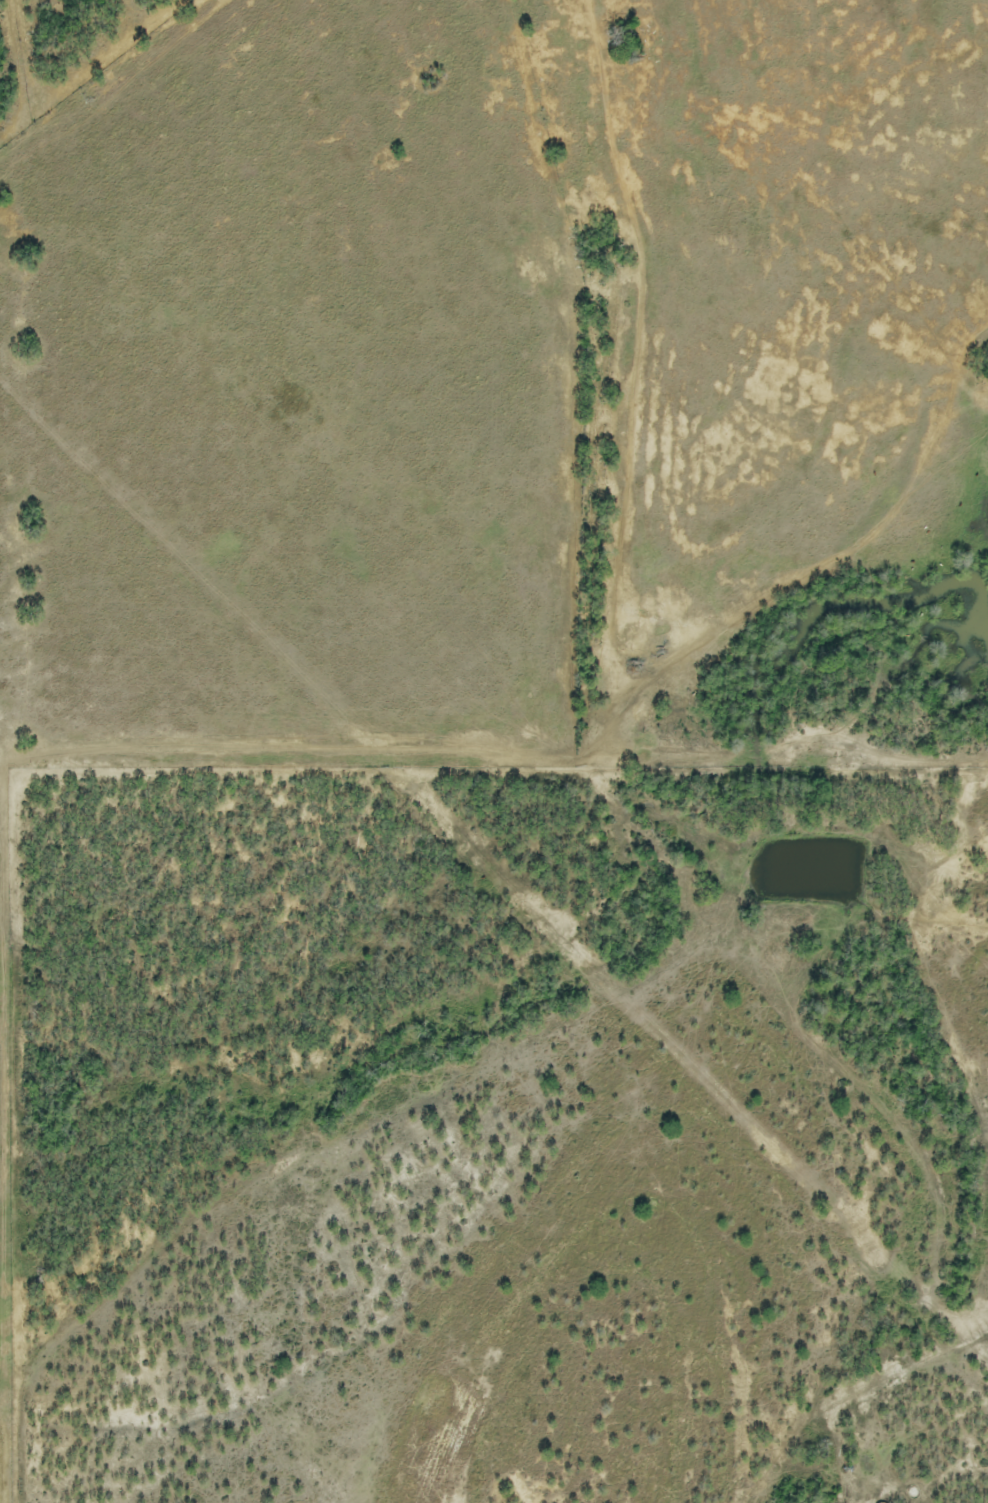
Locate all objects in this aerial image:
road: (607, 229)

